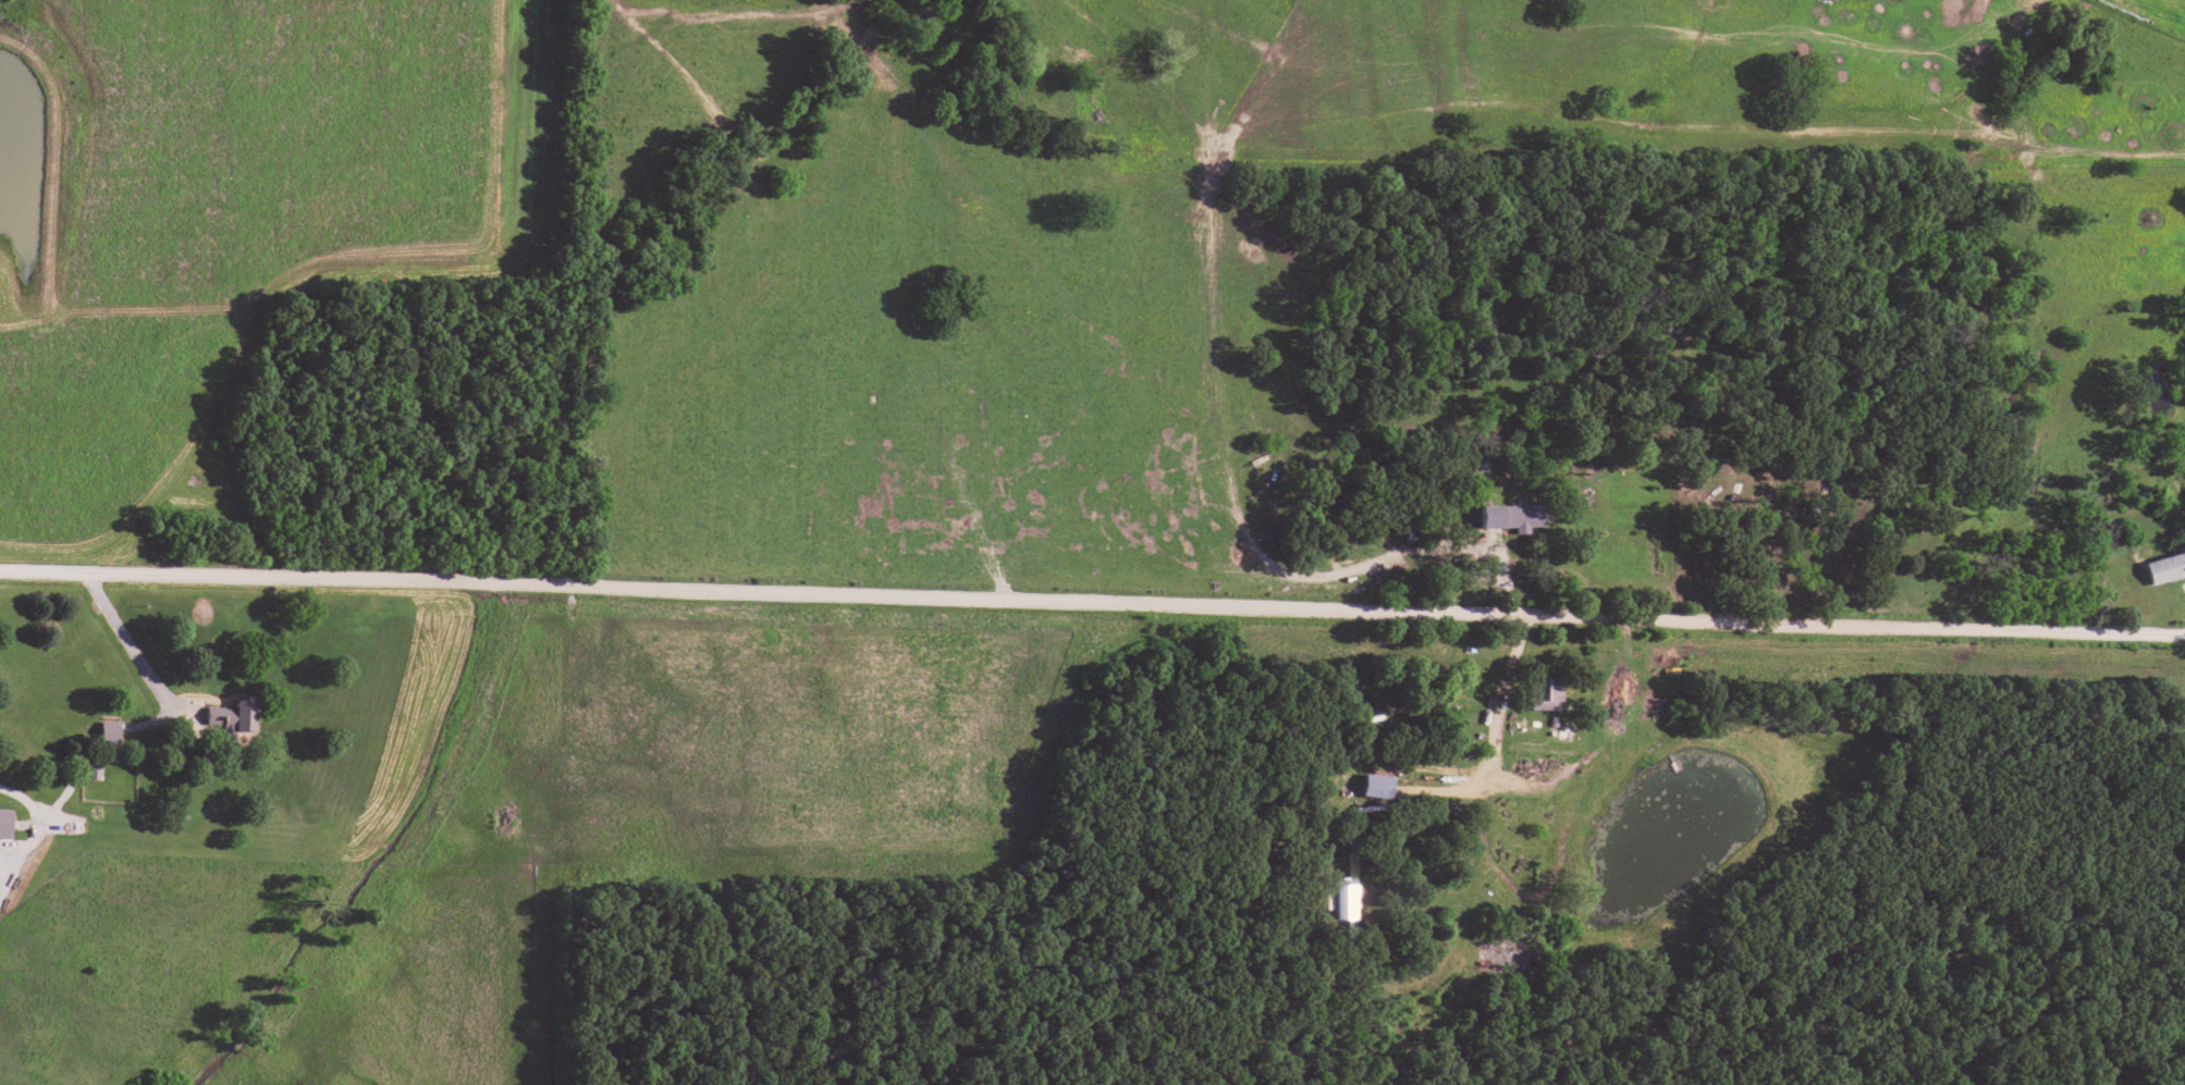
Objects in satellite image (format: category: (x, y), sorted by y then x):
road: (1965, 57)
building: (1509, 513)
building: (2165, 564)
road: (1092, 600)
road: (130, 648)
building: (1546, 690)
building: (230, 715)
building: (107, 729)
building: (90, 768)
road: (27, 801)
building: (2, 819)

